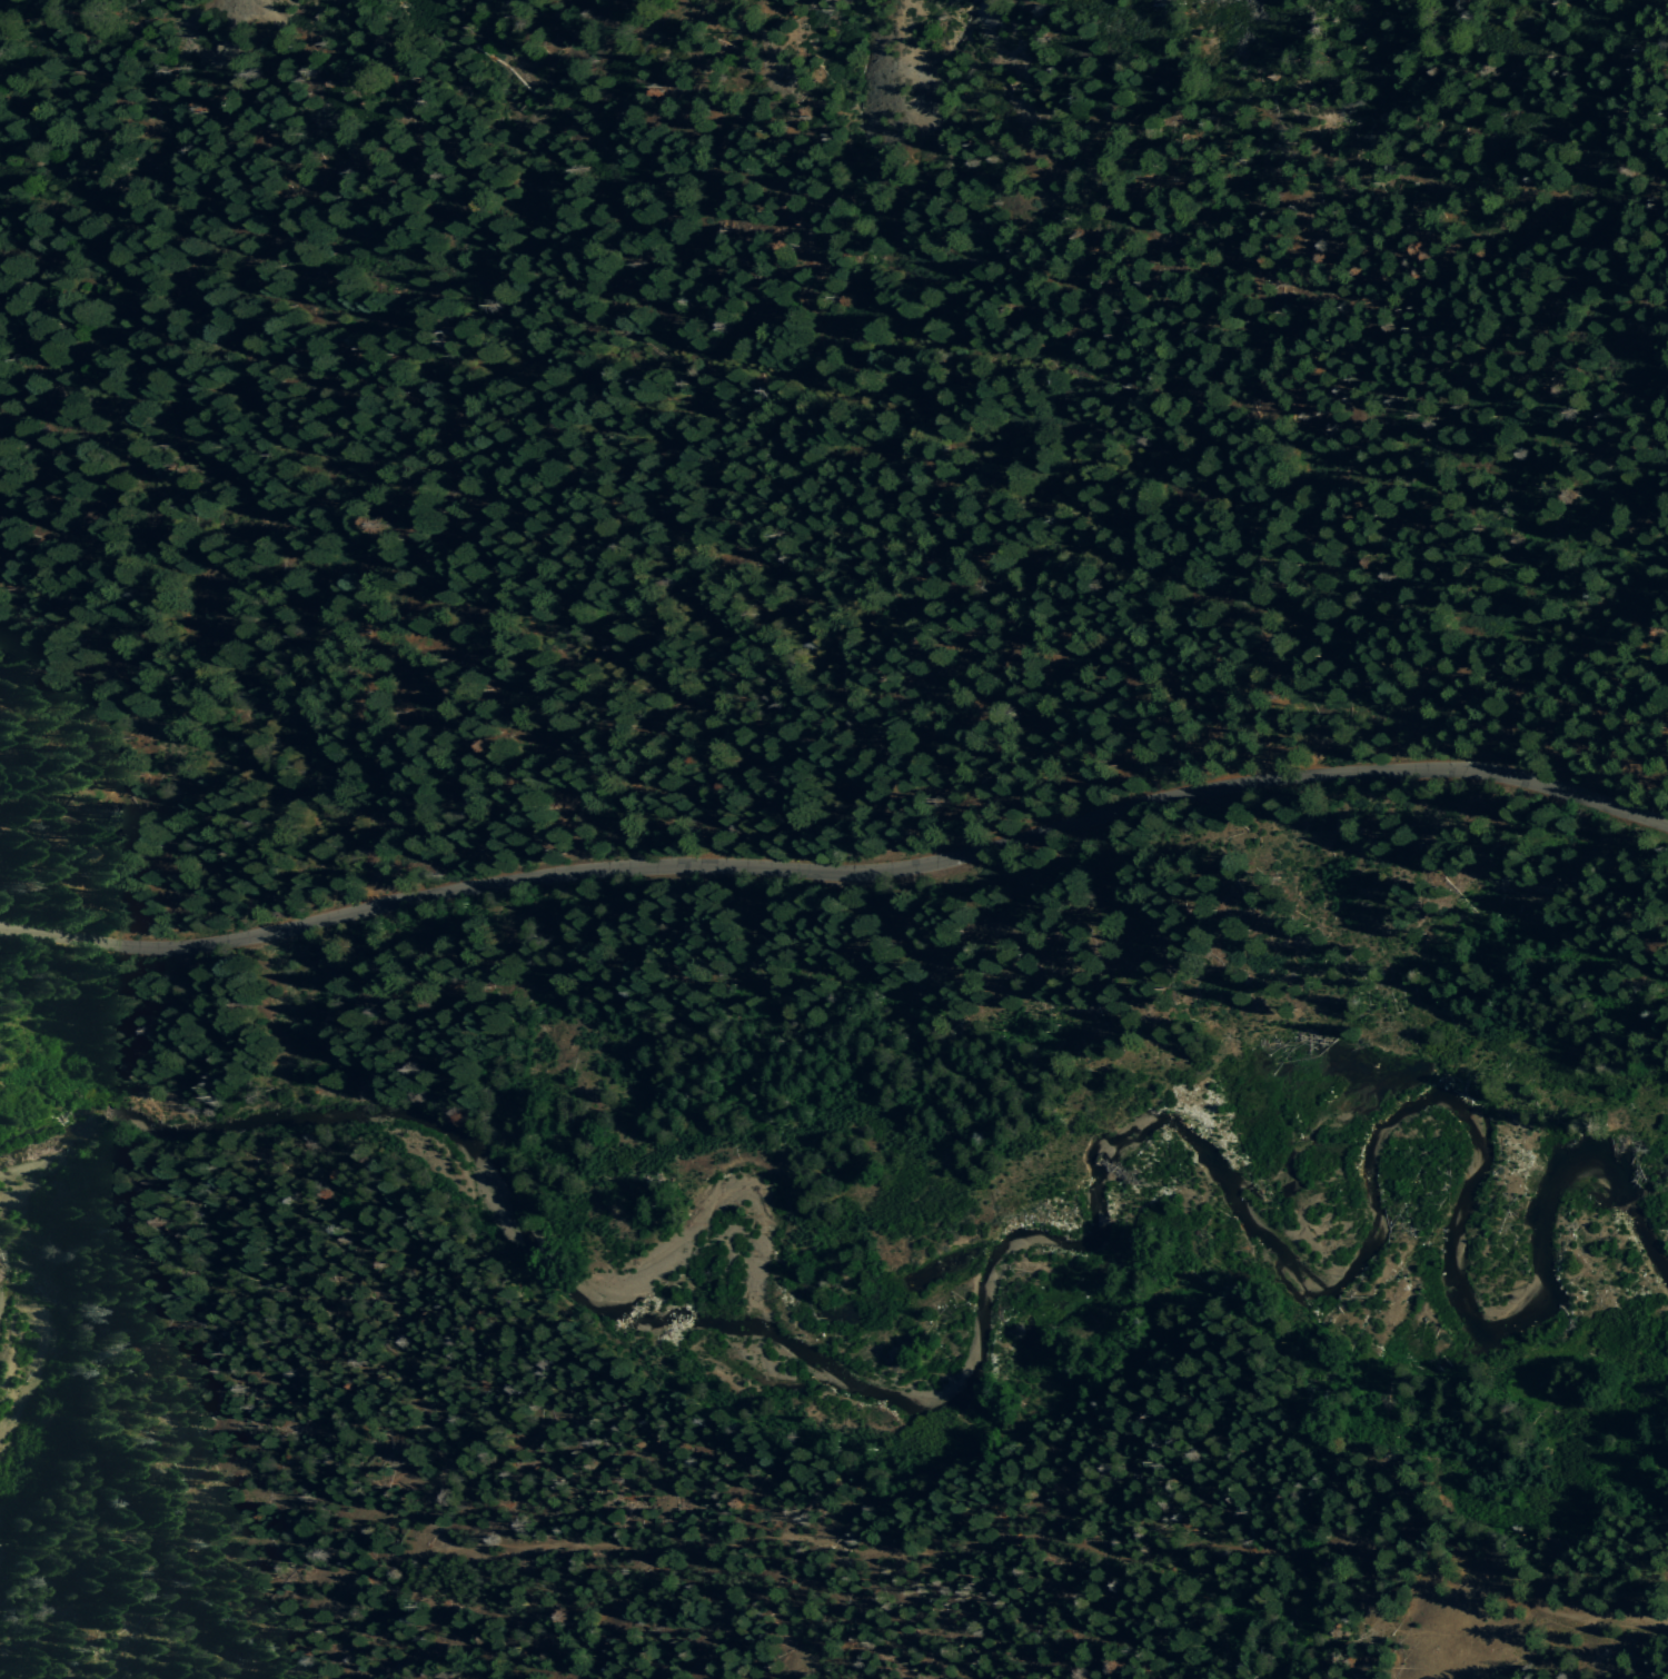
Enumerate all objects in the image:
road: (838, 866)
road: (982, 1541)

